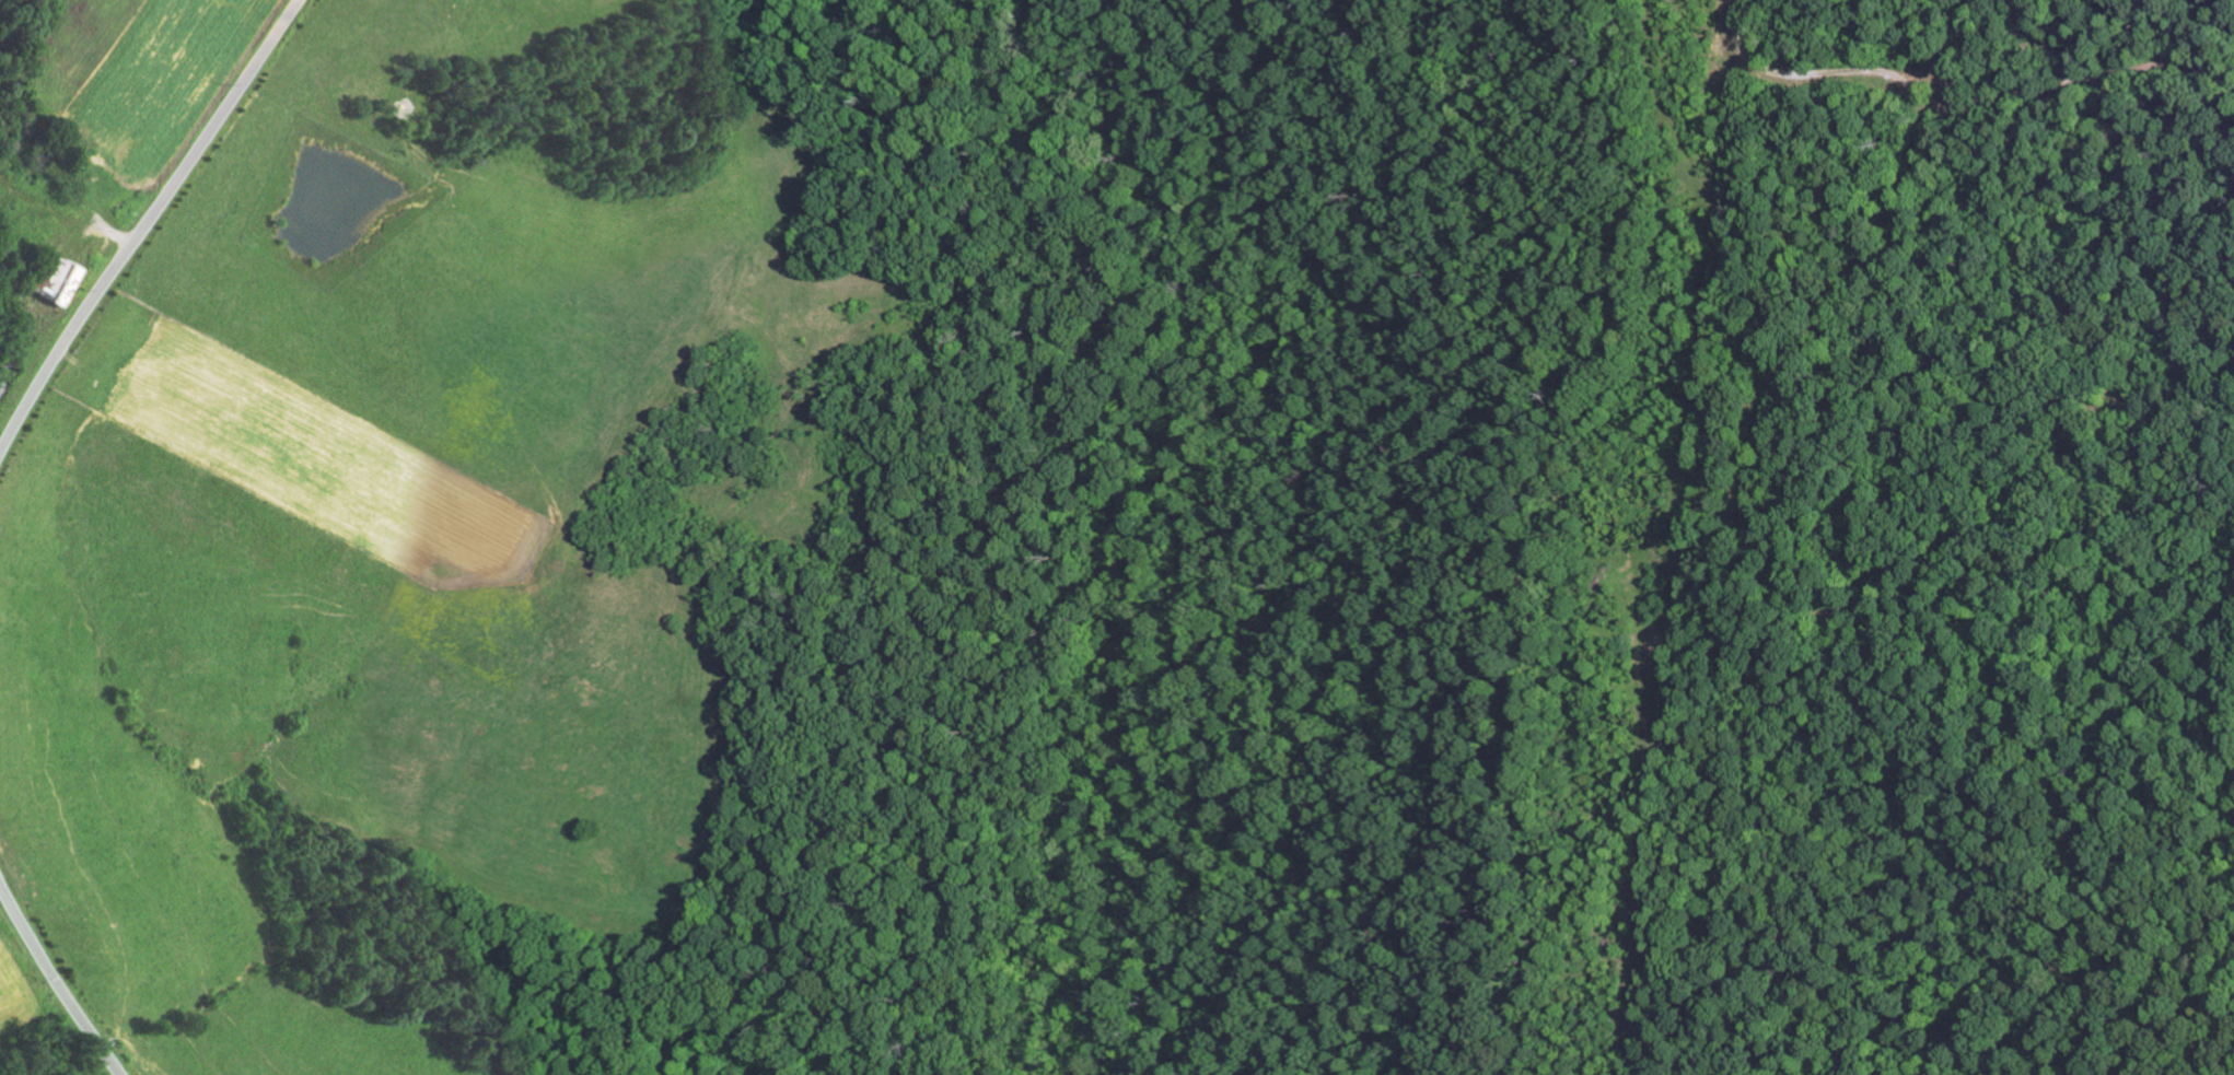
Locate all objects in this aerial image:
road: (147, 224)
building: (57, 279)
road: (55, 982)

